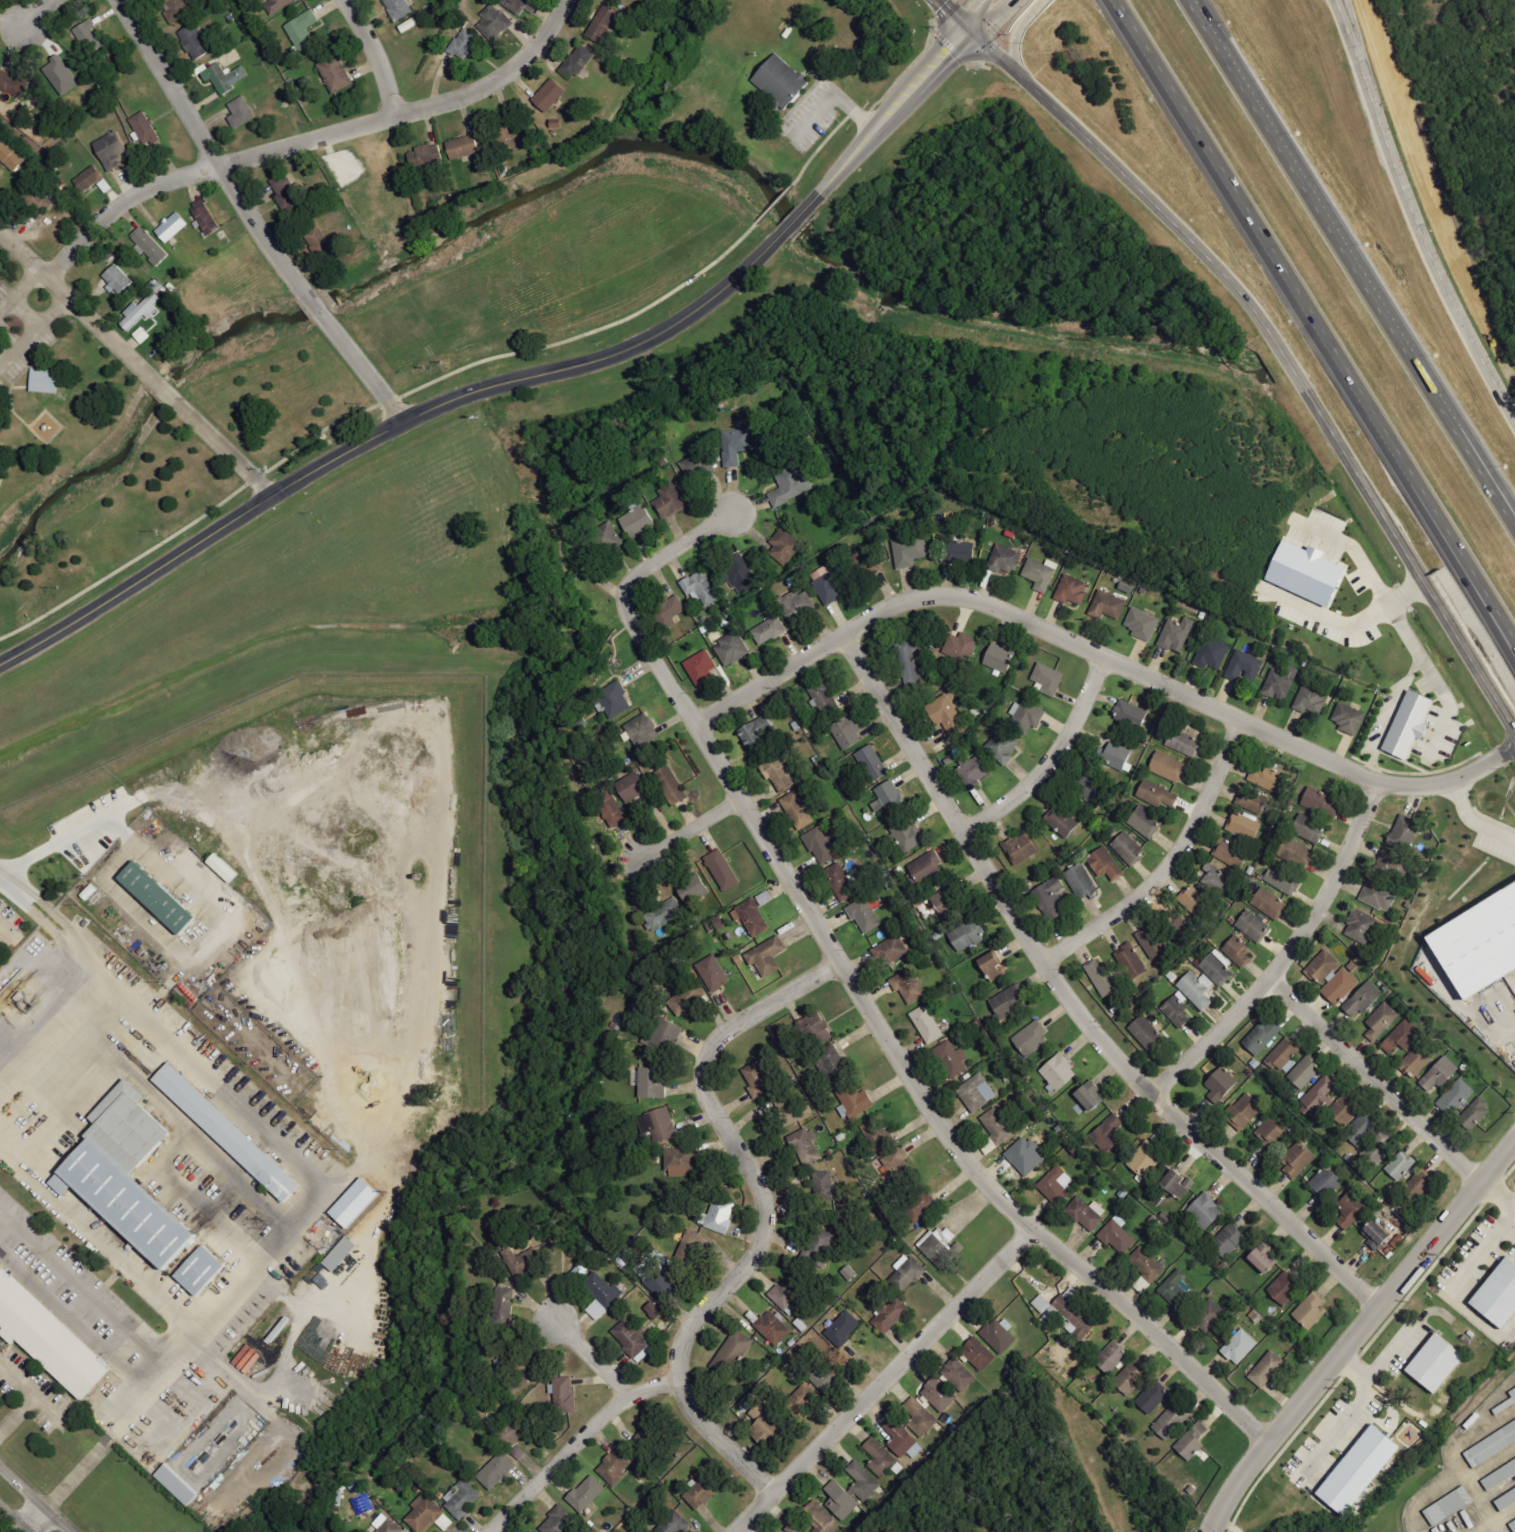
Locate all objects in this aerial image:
building: (280, 4)
building: (516, 5)
building: (401, 8)
building: (177, 9)
road: (1033, 11)
road: (38, 14)
road: (950, 16)
road: (981, 16)
building: (495, 21)
building: (604, 23)
building: (409, 25)
building: (303, 30)
traffic signals: (965, 32)
building: (90, 37)
building: (197, 42)
building: (465, 44)
road: (1016, 50)
road: (375, 55)
building: (579, 62)
building: (337, 74)
building: (63, 75)
building: (227, 77)
building: (784, 80)
building: (14, 83)
building: (551, 95)
building: (243, 112)
building: (147, 129)
road: (312, 139)
building: (466, 147)
building: (114, 150)
building: (11, 155)
building: (428, 156)
building: (91, 178)
building: (290, 192)
building: (40, 200)
road: (1412, 215)
road: (251, 216)
building: (209, 220)
building: (174, 227)
building: (322, 242)
building: (151, 246)
road: (1351, 260)
building: (120, 279)
building: (143, 310)
road: (1315, 324)
building: (143, 335)
parking lot: (19, 336)
road: (1279, 347)
road: (137, 361)
building: (46, 380)
road: (511, 380)
building: (738, 445)
park: (82, 462)
building: (698, 465)
building: (793, 485)
building: (672, 501)
building: (640, 522)
building: (607, 540)
building: (784, 547)
building: (911, 551)
building: (960, 552)
building: (1005, 559)
building: (860, 563)
building: (1313, 573)
building: (1042, 574)
building: (743, 577)
building: (830, 583)
building: (702, 589)
building: (1074, 590)
road: (627, 597)
building: (1109, 604)
building: (797, 606)
building: (671, 610)
building: (1144, 624)
building: (769, 630)
building: (1178, 635)
building: (962, 646)
building: (734, 649)
building: (1213, 653)
road: (1100, 656)
building: (1001, 658)
building: (911, 660)
building: (1245, 666)
building: (703, 667)
road: (1411, 671)
building: (1282, 683)
building: (826, 697)
building: (616, 700)
building: (1312, 701)
road: (1448, 703)
building: (1133, 714)
building: (951, 715)
building: (1029, 715)
building: (1351, 719)
building: (1413, 724)
building: (643, 729)
building: (759, 731)
building: (849, 732)
building: (1185, 743)
building: (1005, 746)
building: (1117, 756)
road: (1052, 760)
building: (873, 763)
building: (1170, 767)
building: (975, 773)
building: (781, 774)
building: (1270, 779)
building: (672, 785)
building: (635, 786)
building: (1094, 793)
building: (1158, 795)
building: (890, 798)
building: (1253, 801)
building: (611, 808)
building: (798, 810)
building: (1063, 822)
building: (1146, 822)
building: (1247, 827)
building: (1310, 828)
road: (690, 830)
building: (1405, 833)
building: (909, 836)
building: (824, 845)
building: (1024, 848)
building: (1129, 849)
building: (1299, 853)
building: (1232, 855)
building: (1107, 864)
road: (1169, 865)
building: (927, 866)
building: (1393, 866)
building: (225, 867)
building: (724, 870)
building: (1216, 879)
building: (1284, 880)
building: (842, 882)
building: (1082, 882)
road: (12, 883)
building: (696, 888)
building: (160, 894)
building: (1380, 895)
building: (1052, 898)
building: (949, 901)
building: (1198, 903)
building: (1270, 903)
building: (665, 915)
building: (866, 915)
building: (754, 917)
building: (1184, 925)
building: (1255, 926)
building: (1361, 926)
building: (969, 935)
building: (1154, 942)
building: (1484, 946)
building: (892, 951)
building: (1240, 952)
road: (1287, 954)
building: (769, 956)
building: (1130, 962)
building: (997, 963)
building: (1219, 969)
building: (716, 973)
building: (1332, 977)
building: (1105, 979)
building: (910, 986)
building: (1199, 990)
building: (688, 997)
building: (1364, 1000)
building: (1010, 1002)
road: (1071, 1002)
building: (1179, 1011)
building: (1382, 1021)
building: (928, 1024)
building: (819, 1028)
building: (1148, 1033)
building: (664, 1036)
building: (1402, 1036)
building: (1263, 1037)
building: (1033, 1038)
building: (1285, 1054)
building: (953, 1059)
building: (1418, 1061)
building: (835, 1062)
building: (1306, 1071)
building: (1061, 1072)
building: (1441, 1076)
building: (759, 1079)
road: (1374, 1079)
building: (653, 1084)
building: (1220, 1088)
building: (978, 1092)
building: (1092, 1095)
building: (1320, 1095)
building: (1457, 1097)
building: (856, 1100)
building: (1345, 1109)
building: (1246, 1111)
building: (1478, 1112)
road: (937, 1120)
building: (661, 1124)
building: (998, 1126)
building: (228, 1129)
building: (1362, 1129)
building: (1272, 1133)
building: (1109, 1134)
building: (881, 1135)
building: (807, 1146)
building: (1380, 1147)
building: (1027, 1156)
building: (1146, 1159)
building: (1299, 1160)
building: (681, 1161)
building: (1400, 1165)
building: (900, 1167)
building: (129, 1173)
building: (1180, 1182)
building: (1326, 1183)
building: (825, 1184)
building: (1058, 1185)
building: (1419, 1185)
road: (1498, 1193)
building: (359, 1203)
building: (923, 1208)
building: (1353, 1209)
building: (1207, 1211)
building: (1088, 1213)
building: (720, 1216)
road: (765, 1218)
building: (1119, 1236)
building: (1379, 1236)
building: (1231, 1239)
building: (941, 1245)
building: (819, 1246)
road: (1479, 1246)
building: (692, 1248)
building: (340, 1250)
building: (525, 1261)
building: (1267, 1262)
building: (1148, 1265)
building: (202, 1269)
building: (908, 1273)
building: (850, 1274)
building: (667, 1280)
building: (1176, 1289)
building: (1286, 1289)
building: (790, 1293)
building: (602, 1295)
building: (1500, 1298)
building: (506, 1302)
building: (656, 1311)
building: (1312, 1311)
building: (1070, 1313)
building: (891, 1315)
building: (1211, 1316)
building: (775, 1328)
building: (845, 1329)
road: (1358, 1333)
building: (48, 1335)
building: (1000, 1335)
building: (632, 1337)
building: (1241, 1347)
building: (733, 1354)
building: (981, 1355)
building: (1114, 1356)
road: (593, 1357)
building: (1440, 1364)
building: (1268, 1369)
building: (827, 1375)
building: (960, 1375)
building: (1133, 1376)
road: (885, 1380)
road: (31, 1387)
building: (1513, 1394)
building: (563, 1395)
building: (940, 1396)
building: (1153, 1398)
building: (804, 1401)
road: (18, 1411)
building: (921, 1417)
building: (1171, 1423)
building: (770, 1428)
building: (647, 1436)
building: (904, 1440)
building: (1194, 1441)
road: (575, 1442)
building: (1492, 1445)
building: (517, 1450)
building: (882, 1459)
building: (613, 1465)
building: (495, 1469)
building: (1363, 1471)
road: (78, 1473)
building: (863, 1481)
building: (176, 1485)
building: (703, 1491)
building: (586, 1493)
building: (461, 1498)
road: (34, 1499)
building: (842, 1500)
building: (361, 1504)
building: (1450, 1507)
building: (428, 1513)
building: (820, 1516)
road: (16, 1517)
road: (36, 1518)
building: (560, 1519)
building: (1513, 1521)
building: (674, 1522)
building: (387, 1524)
building: (796, 1528)
building: (532, 1531)

